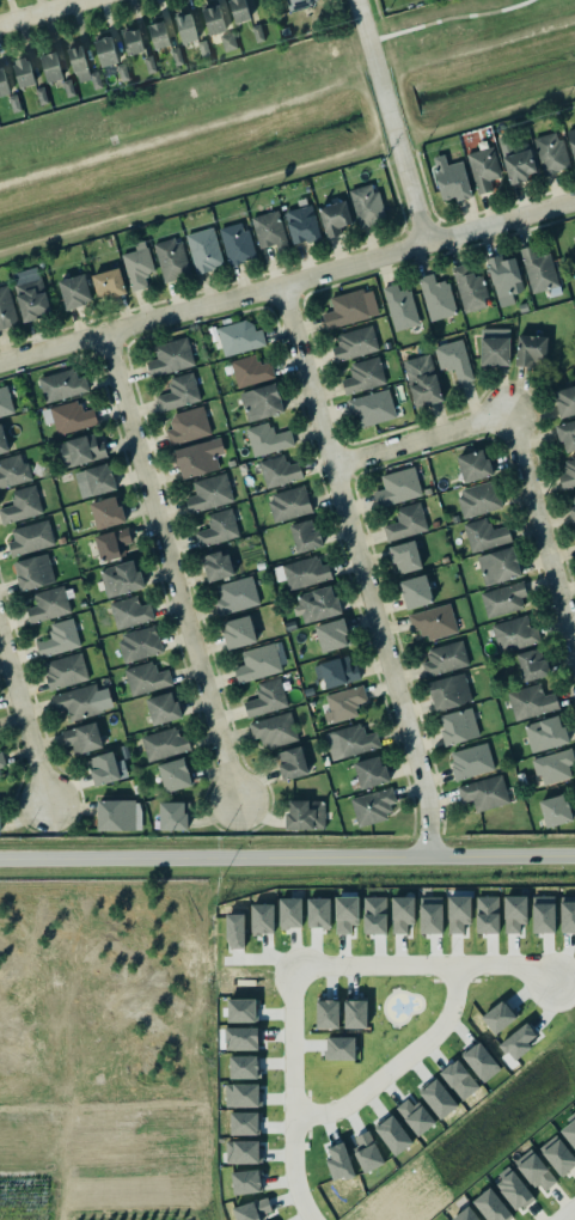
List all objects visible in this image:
building: (296, 4)
building: (238, 10)
road: (39, 11)
road: (447, 19)
building: (214, 20)
park: (461, 26)
building: (186, 29)
building: (256, 33)
building: (159, 35)
building: (130, 41)
building: (228, 42)
building: (203, 49)
building: (109, 57)
building: (177, 57)
building: (149, 65)
building: (81, 66)
building: (51, 67)
building: (22, 73)
building: (4, 83)
building: (68, 89)
building: (39, 96)
road: (387, 122)
building: (571, 141)
building: (550, 153)
building: (518, 166)
building: (482, 169)
building: (451, 178)
road: (227, 188)
building: (367, 206)
building: (335, 218)
building: (302, 225)
building: (269, 231)
building: (235, 244)
building: (204, 251)
building: (170, 260)
building: (136, 268)
building: (537, 269)
building: (503, 279)
building: (109, 283)
road: (287, 283)
building: (469, 287)
building: (73, 292)
building: (30, 295)
building: (435, 297)
building: (399, 307)
building: (6, 309)
building: (349, 309)
building: (238, 337)
building: (354, 343)
building: (530, 350)
building: (494, 352)
building: (171, 358)
building: (452, 359)
building: (251, 371)
building: (362, 376)
building: (422, 380)
building: (62, 385)
building: (179, 392)
building: (5, 402)
building: (259, 402)
building: (565, 402)
building: (371, 408)
building: (69, 417)
building: (188, 426)
building: (567, 435)
building: (265, 439)
building: (2, 441)
road: (516, 444)
building: (81, 450)
building: (198, 458)
building: (475, 465)
building: (13, 470)
building: (280, 471)
building: (568, 475)
building: (97, 480)
building: (396, 486)
building: (426, 490)
building: (208, 493)
building: (478, 499)
building: (289, 504)
building: (22, 505)
building: (573, 507)
building: (105, 513)
building: (406, 521)
building: (219, 529)
building: (484, 535)
building: (306, 536)
building: (29, 538)
building: (60, 541)
building: (112, 543)
building: (404, 557)
building: (497, 566)
building: (215, 567)
road: (167, 568)
road: (360, 571)
building: (32, 573)
building: (304, 573)
building: (120, 579)
building: (415, 592)
building: (234, 596)
building: (504, 599)
building: (49, 604)
building: (318, 604)
building: (128, 612)
building: (433, 622)
building: (237, 633)
building: (513, 634)
building: (331, 635)
building: (60, 639)
building: (140, 643)
building: (444, 658)
building: (258, 661)
building: (531, 665)
building: (63, 671)
building: (338, 672)
building: (146, 678)
building: (449, 691)
building: (267, 697)
building: (530, 701)
building: (79, 702)
building: (343, 704)
building: (160, 709)
road: (23, 719)
building: (458, 726)
building: (274, 730)
building: (545, 733)
building: (82, 738)
building: (349, 742)
building: (164, 744)
building: (1, 762)
building: (470, 762)
building: (292, 763)
building: (553, 767)
building: (102, 769)
building: (371, 771)
building: (172, 776)
building: (0, 779)
building: (483, 792)
building: (373, 806)
building: (553, 812)
building: (116, 815)
building: (305, 815)
building: (173, 816)
building: (0, 824)
road: (287, 856)
building: (290, 913)
building: (319, 913)
building: (458, 913)
building: (514, 913)
building: (345, 914)
building: (402, 914)
building: (487, 914)
building: (543, 914)
building: (374, 915)
building: (430, 915)
building: (567, 915)
building: (262, 919)
building: (234, 928)
road: (432, 964)
building: (241, 1011)
building: (326, 1013)
building: (354, 1013)
building: (498, 1015)
building: (240, 1038)
building: (519, 1039)
crop: (105, 1047)
building: (341, 1048)
building: (481, 1061)
road: (397, 1063)
building: (243, 1067)
building: (459, 1079)
building: (246, 1094)
road: (292, 1096)
building: (438, 1098)
building: (415, 1115)
building: (244, 1123)
building: (569, 1131)
building: (392, 1134)
building: (246, 1152)
building: (367, 1152)
building: (557, 1155)
building: (338, 1163)
building: (536, 1171)
building: (245, 1182)
building: (514, 1190)
building: (490, 1206)
building: (253, 1210)
building: (465, 1214)
road: (569, 1215)

